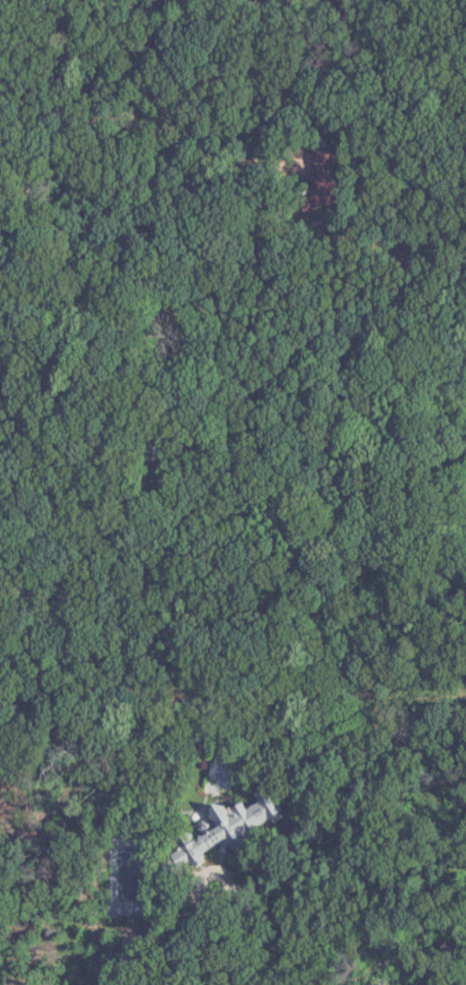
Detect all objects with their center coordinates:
road: (156, 117)
building: (332, 171)
building: (236, 820)
road: (150, 930)

